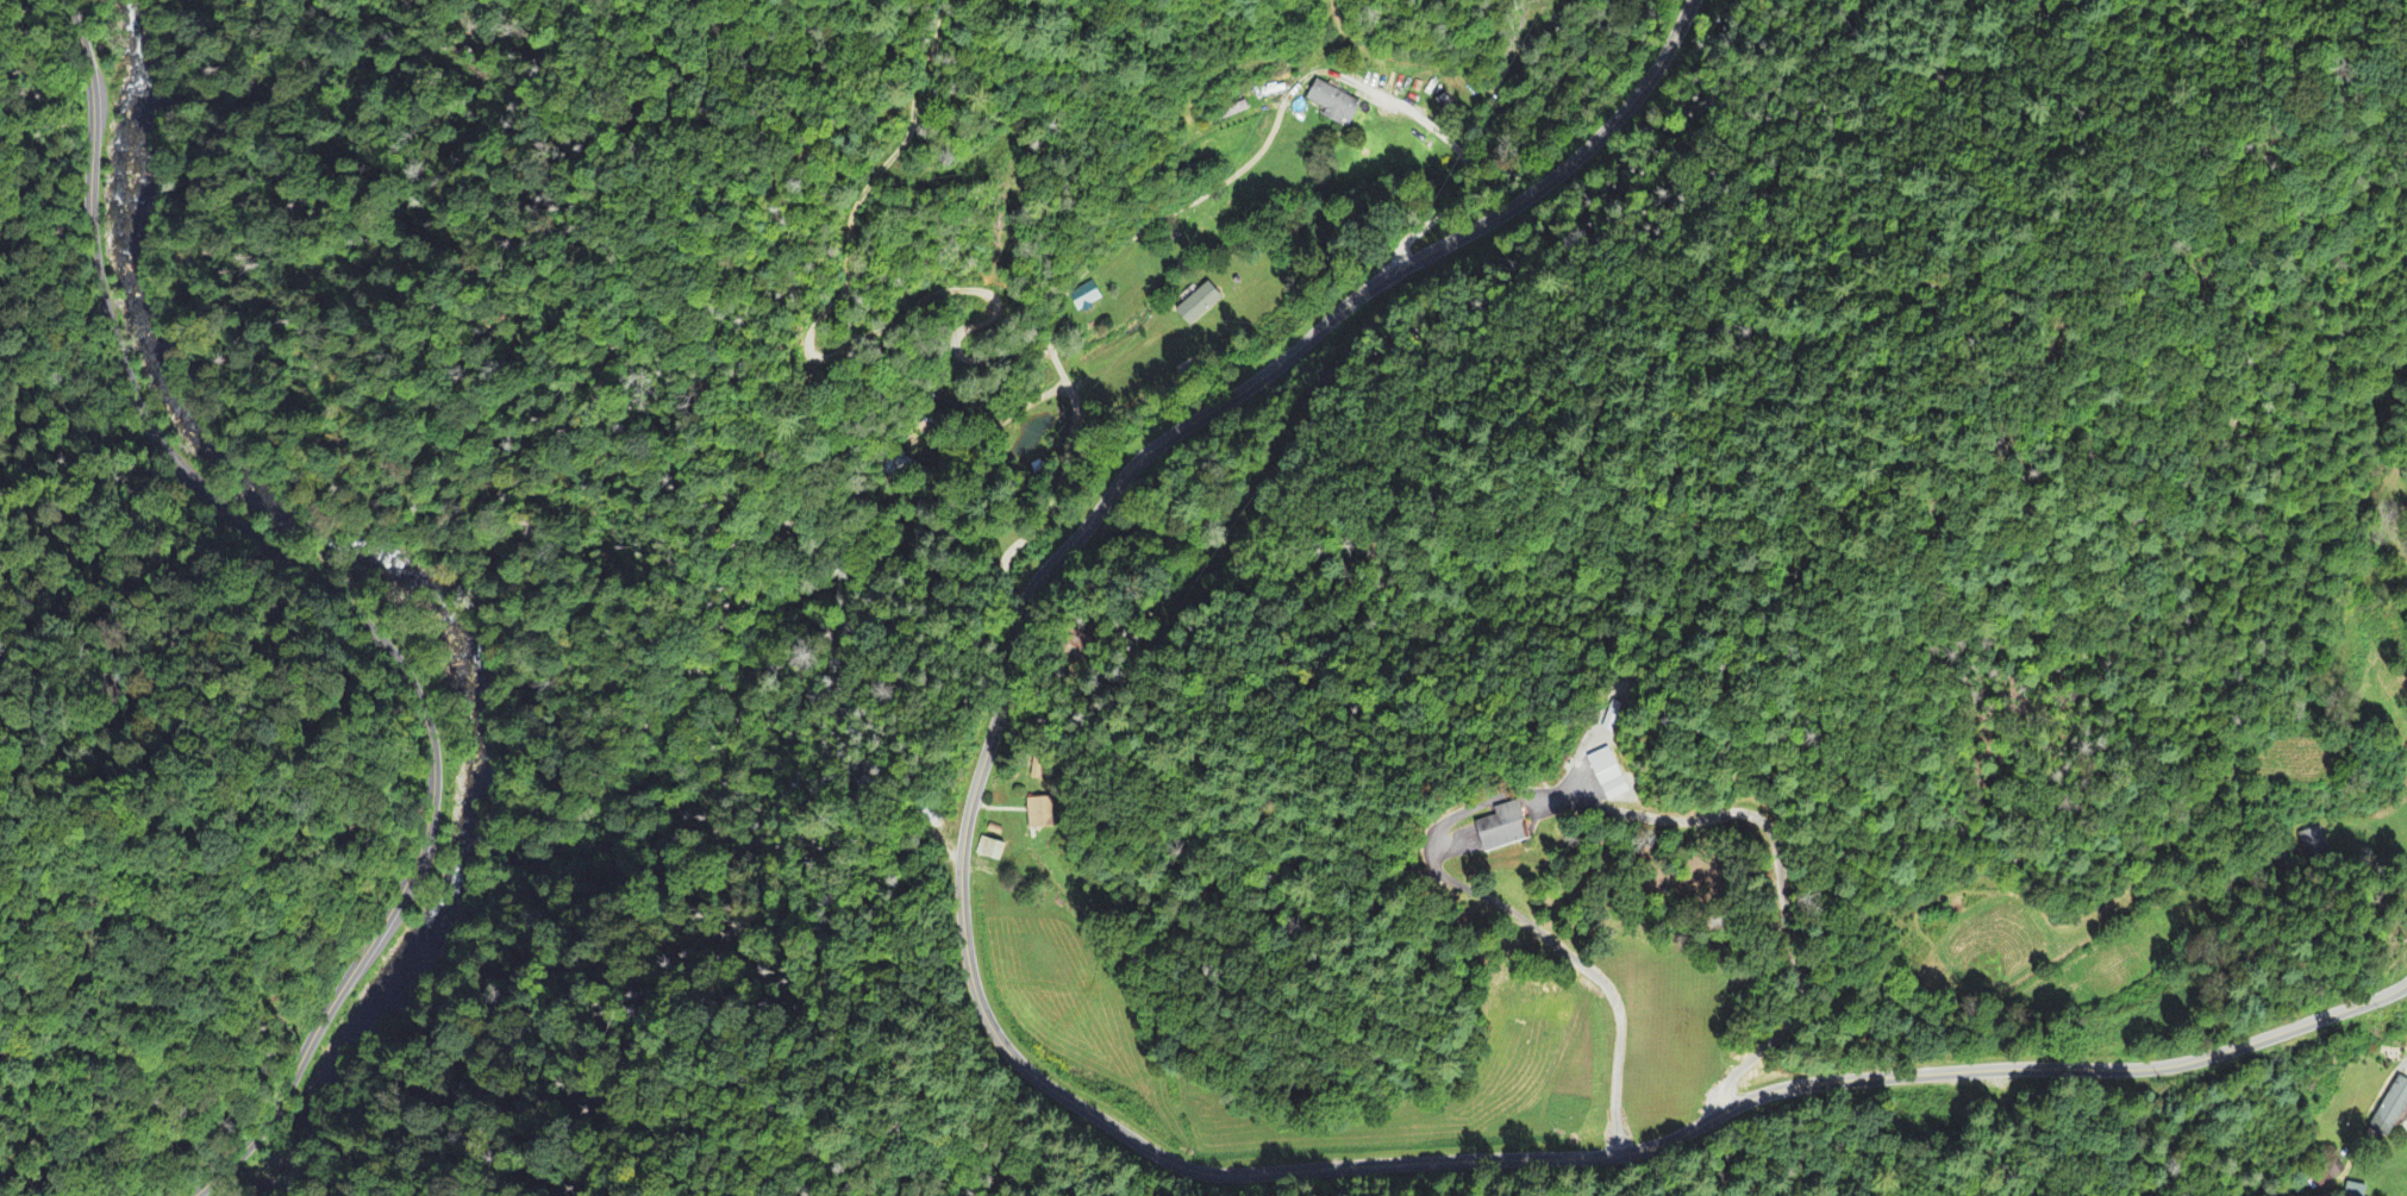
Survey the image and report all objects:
building: (1336, 108)
building: (1086, 300)
road: (1371, 326)
road: (1052, 328)
river: (235, 463)
building: (2406, 514)
road: (333, 600)
building: (2406, 749)
building: (1609, 777)
building: (1039, 815)
building: (1505, 831)
building: (992, 852)
river: (364, 1016)
building: (2393, 1112)
road: (1519, 1134)
building: (2355, 1191)

